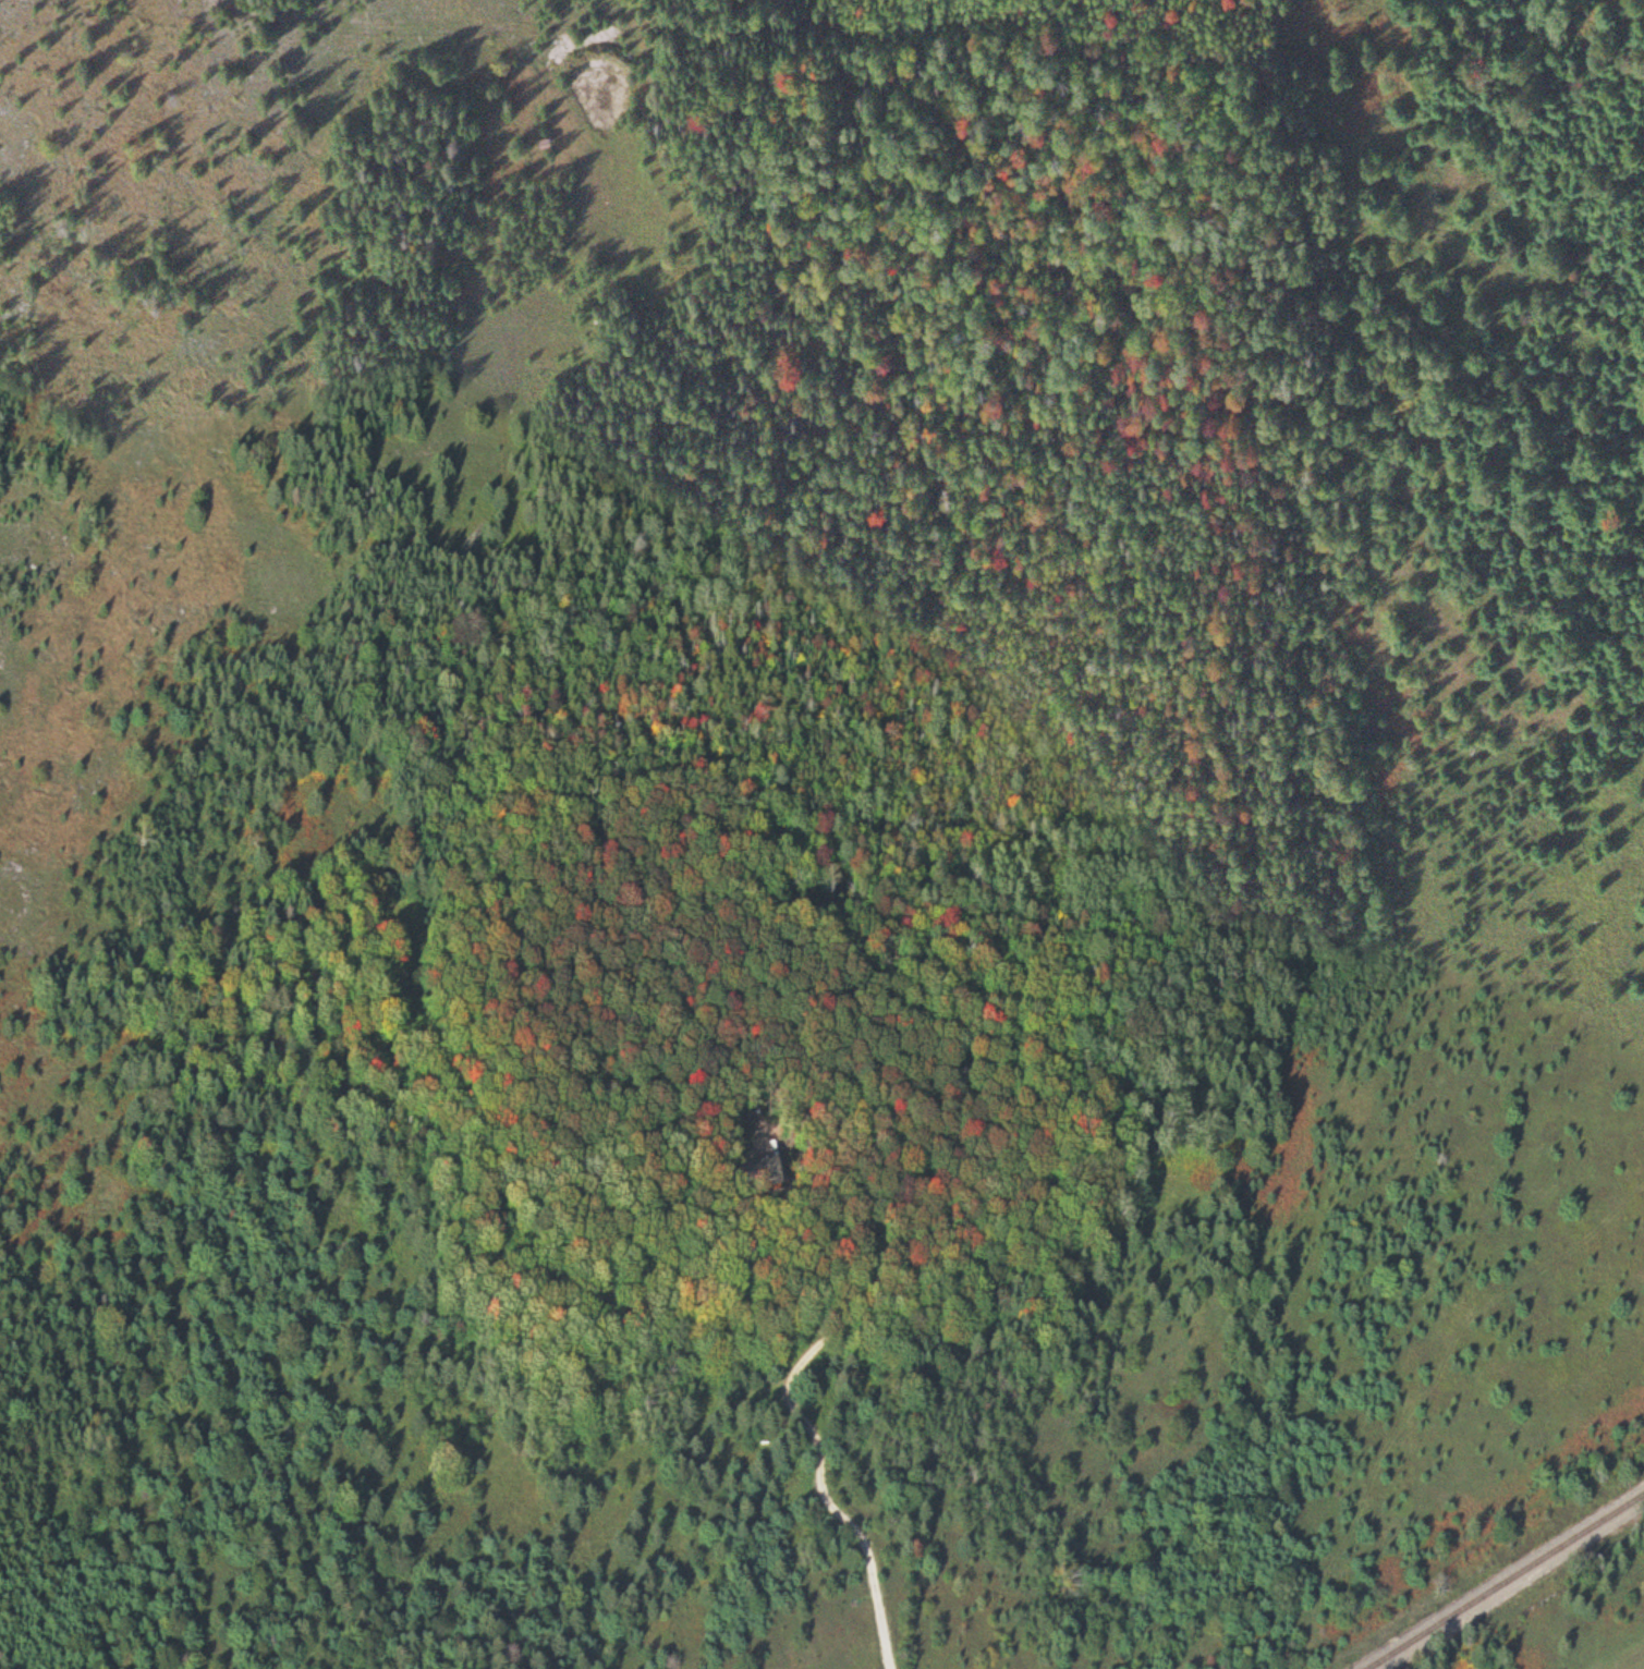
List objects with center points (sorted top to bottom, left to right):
railway: (1506, 1581)

